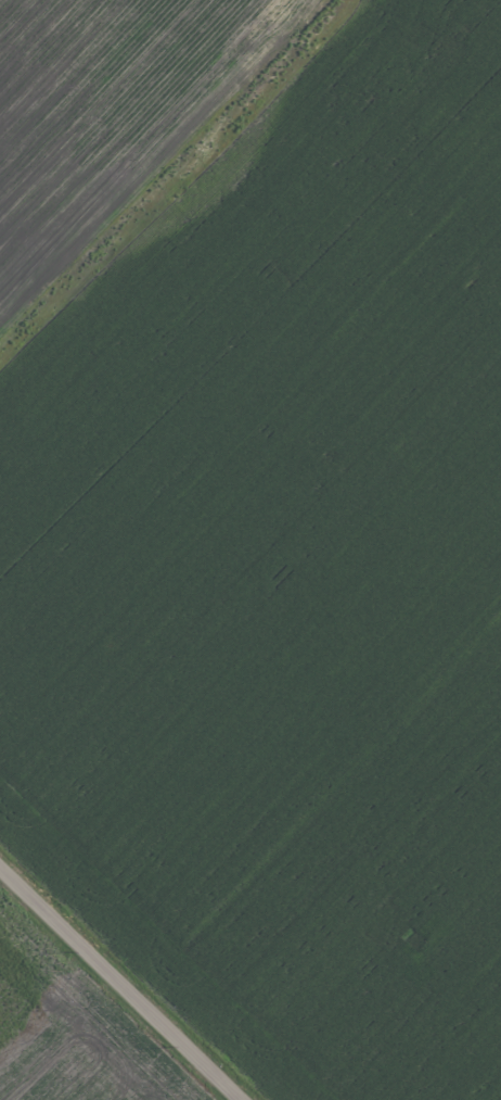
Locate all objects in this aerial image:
road: (121, 982)

